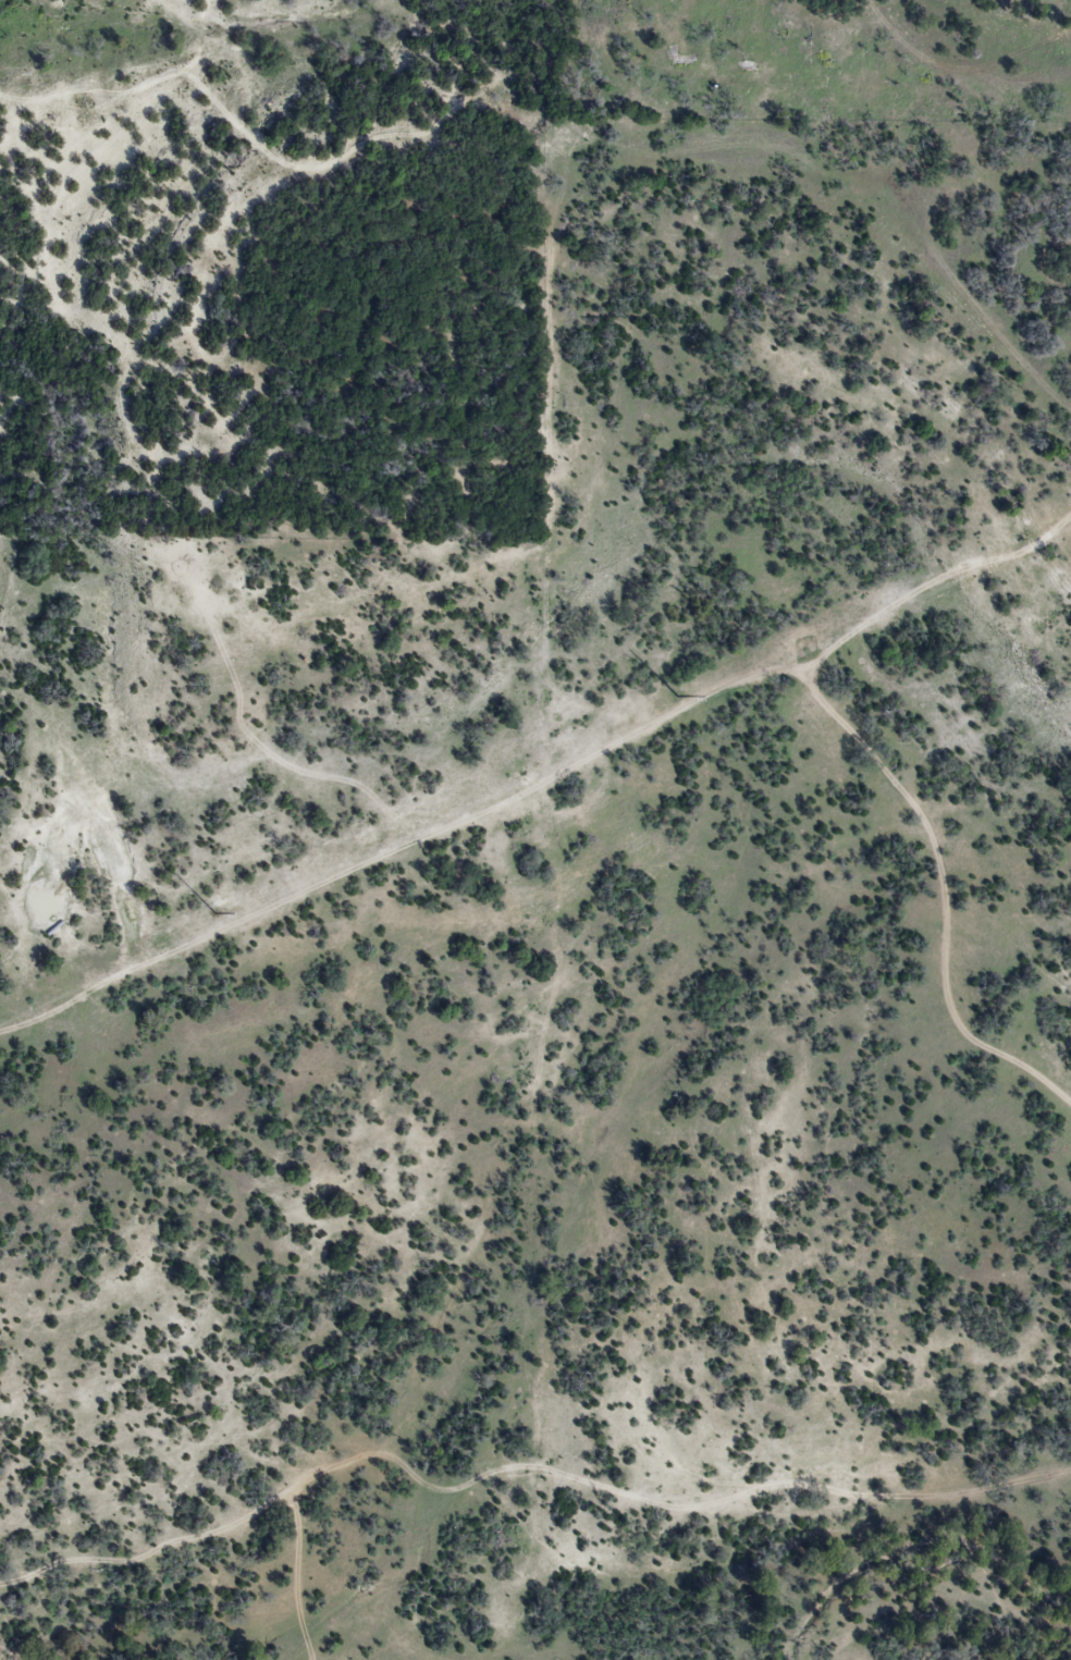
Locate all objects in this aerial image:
power tower: (679, 697)
road: (588, 888)
power tower: (219, 913)

